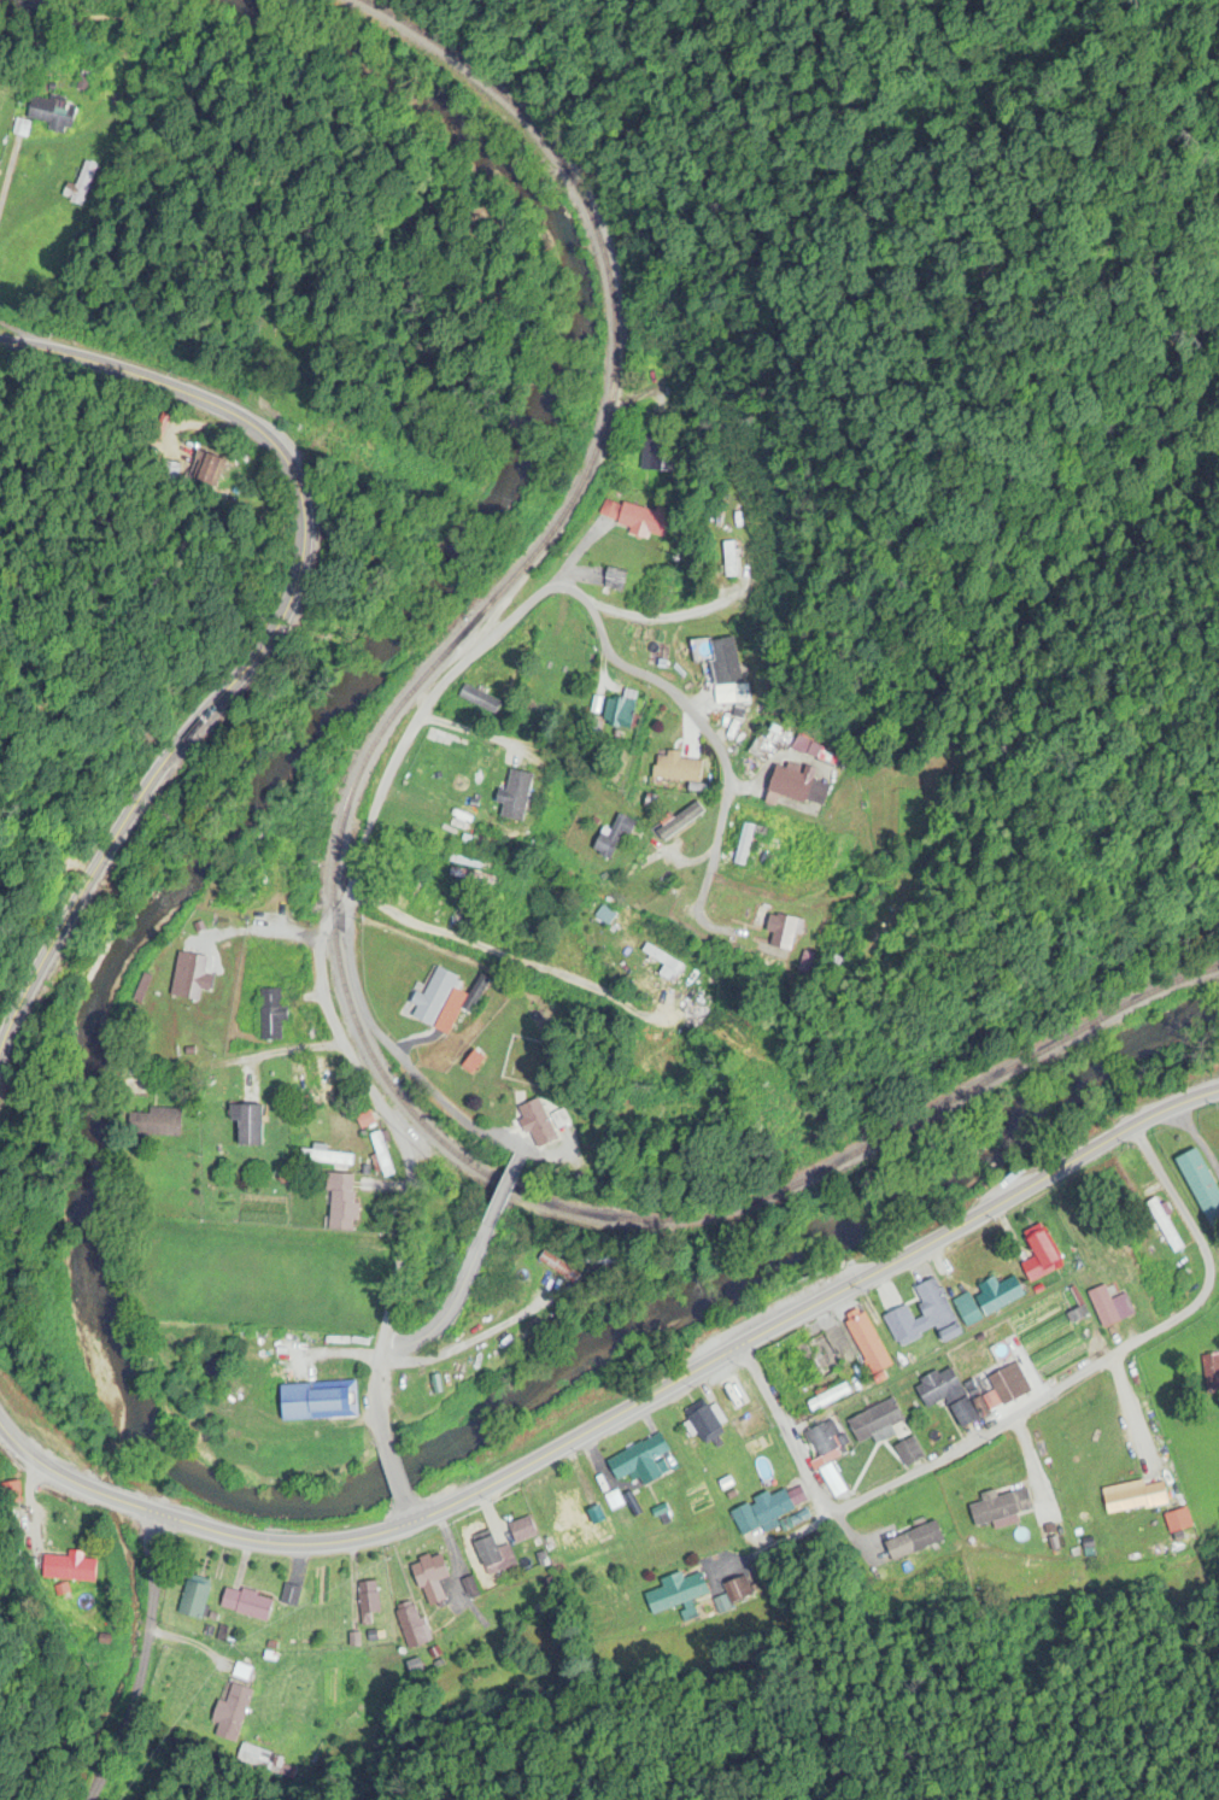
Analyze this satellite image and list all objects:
river: (1, 0)
building: (51, 115)
building: (80, 187)
building: (655, 453)
building: (209, 470)
building: (635, 520)
building: (728, 561)
building: (590, 579)
road: (268, 637)
building: (723, 662)
road: (458, 680)
building: (722, 697)
building: (479, 700)
building: (619, 713)
building: (676, 768)
building: (795, 786)
building: (514, 796)
building: (693, 825)
building: (428, 833)
building: (613, 838)
building: (744, 845)
building: (473, 862)
building: (430, 898)
railway: (334, 916)
building: (781, 932)
building: (191, 977)
building: (444, 1002)
building: (270, 1016)
road: (256, 1061)
building: (326, 1085)
building: (156, 1124)
building: (538, 1124)
building: (247, 1126)
river: (87, 1134)
road: (399, 1156)
building: (322, 1157)
building: (1201, 1186)
road: (503, 1191)
building: (340, 1203)
building: (1164, 1226)
building: (1039, 1257)
building: (558, 1268)
building: (997, 1295)
building: (1103, 1307)
building: (936, 1309)
building: (967, 1311)
road: (444, 1315)
building: (902, 1324)
building: (867, 1343)
building: (1008, 1385)
building: (945, 1395)
building: (827, 1399)
building: (317, 1402)
building: (735, 1402)
road: (617, 1412)
road: (1015, 1414)
road: (375, 1415)
building: (874, 1421)
road: (1130, 1421)
building: (704, 1425)
building: (906, 1454)
building: (826, 1458)
building: (638, 1461)
road: (1028, 1462)
road: (391, 1471)
building: (11, 1494)
building: (1123, 1499)
building: (1000, 1507)
road: (402, 1514)
building: (761, 1518)
building: (1178, 1526)
building: (521, 1531)
building: (580, 1536)
building: (913, 1542)
building: (493, 1558)
building: (68, 1569)
building: (429, 1578)
building: (678, 1594)
building: (193, 1597)
building: (367, 1602)
building: (245, 1605)
building: (411, 1626)
road: (140, 1660)
building: (230, 1713)

